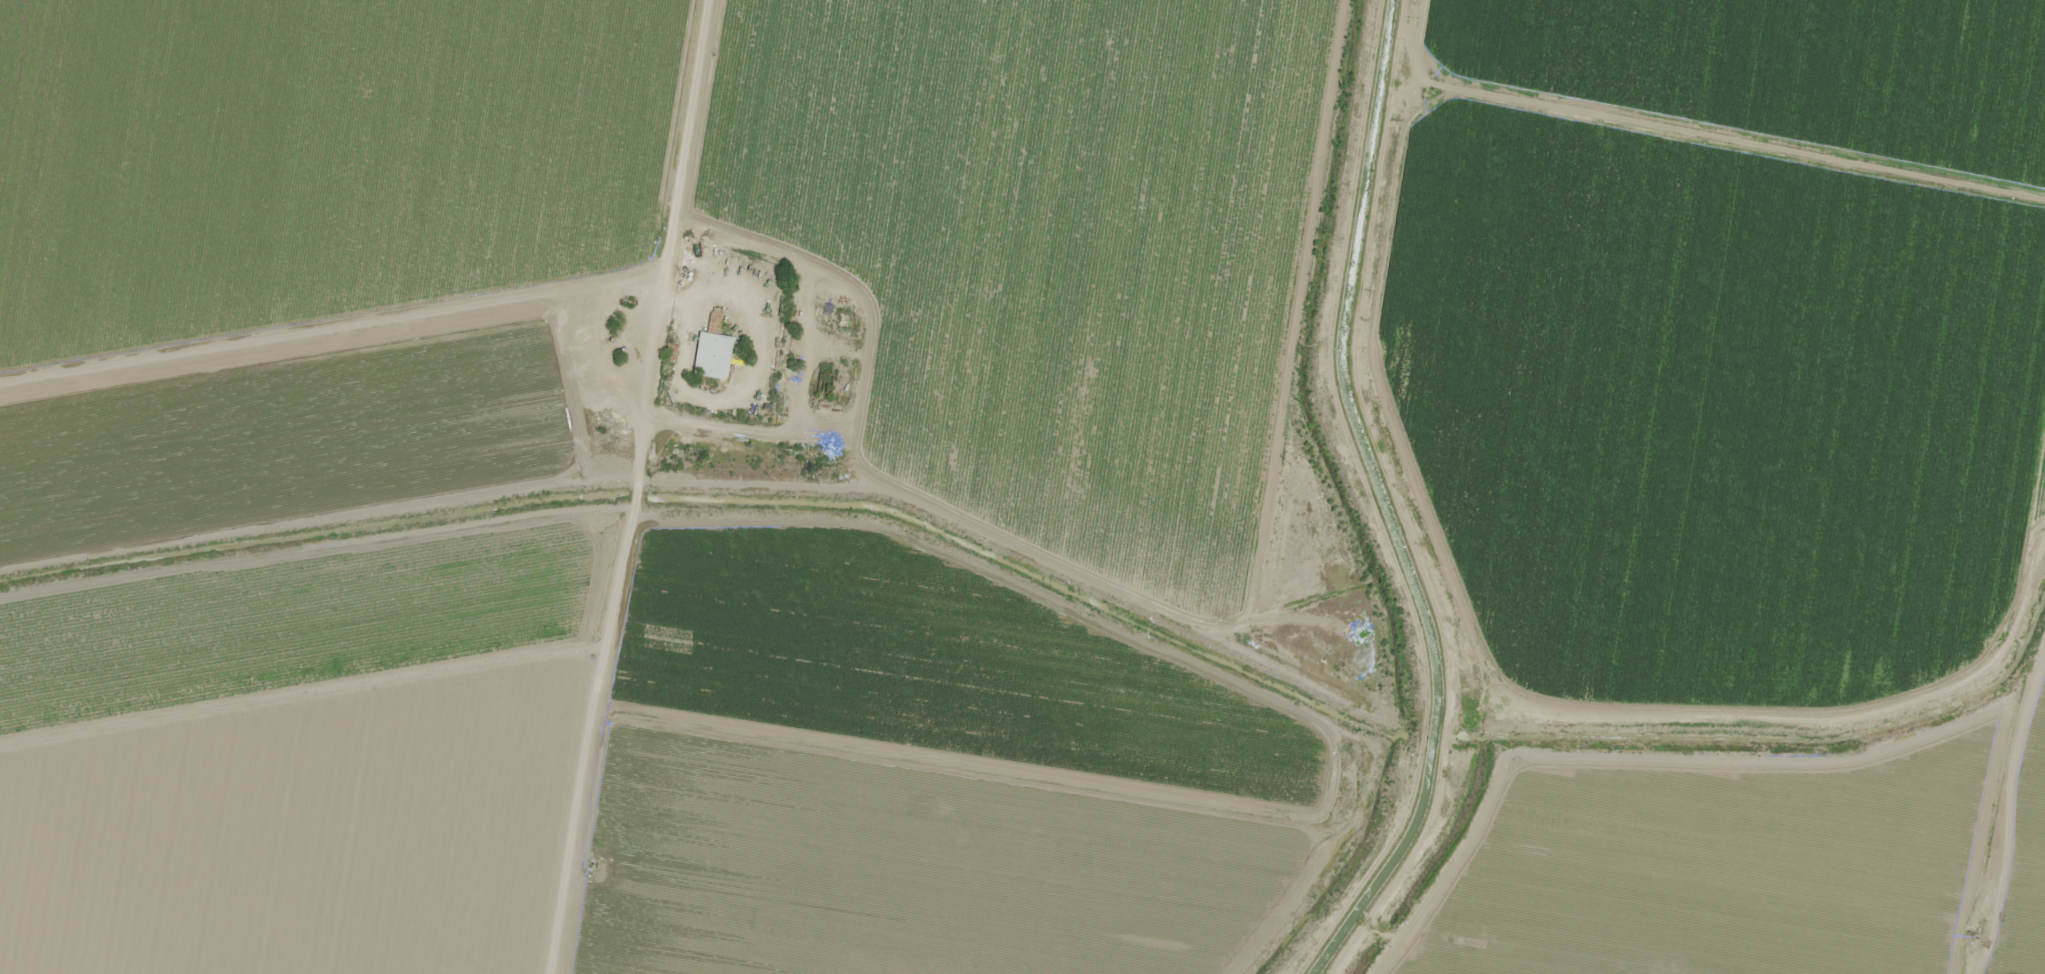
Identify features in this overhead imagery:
building: (629, 337)
building: (713, 355)
road: (651, 487)
road: (1423, 494)

